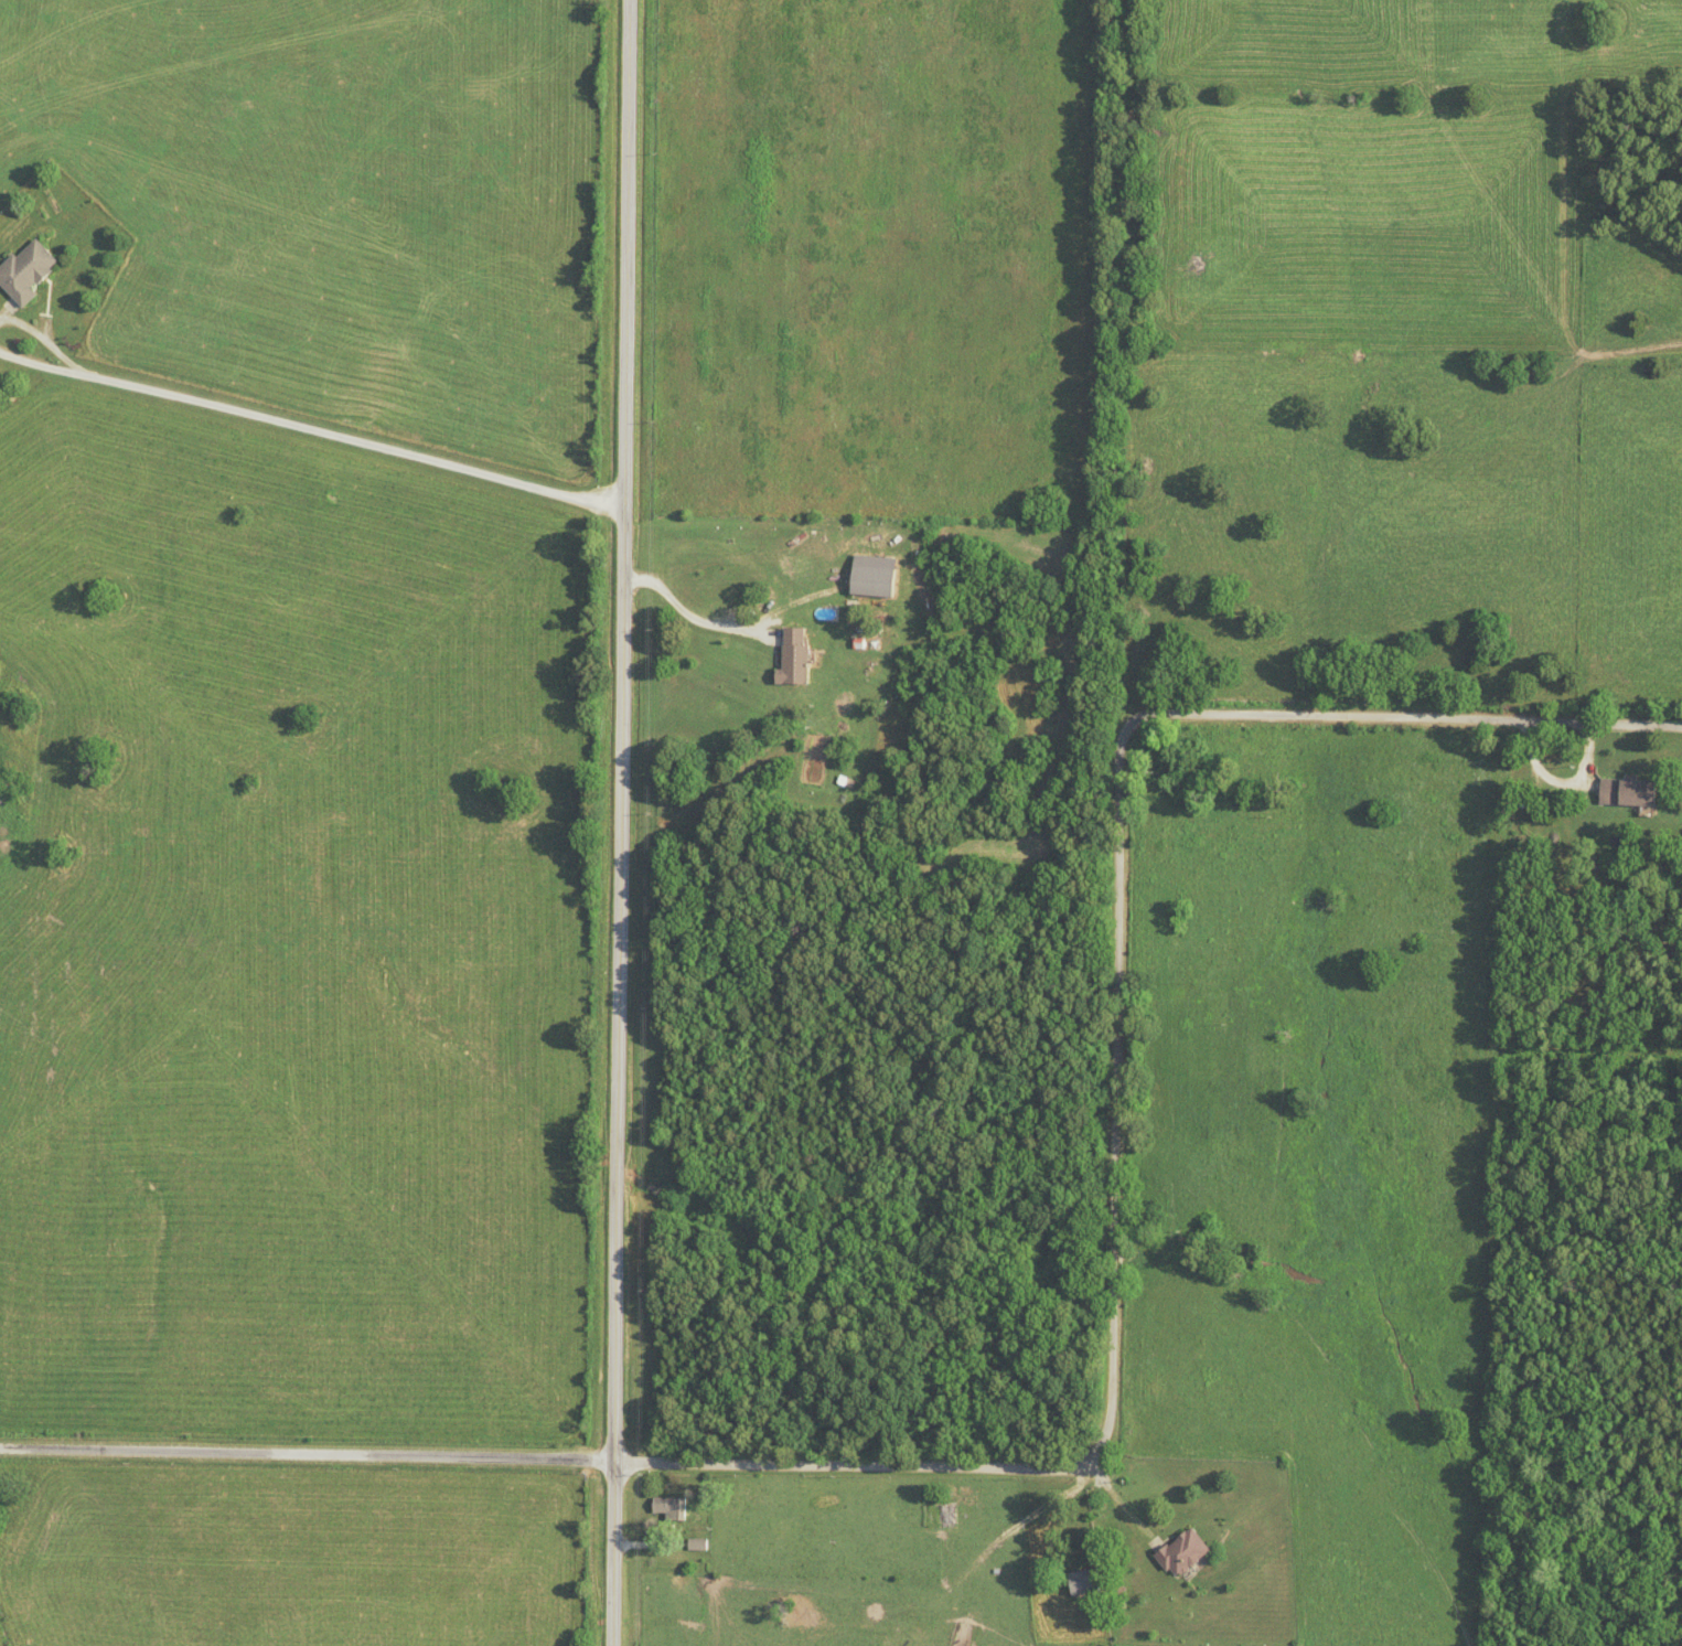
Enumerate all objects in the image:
building: (23, 270)
road: (75, 368)
road: (355, 442)
building: (869, 576)
road: (692, 616)
building: (790, 658)
road: (1435, 717)
building: (1624, 790)
road: (625, 823)
road: (955, 1467)
building: (667, 1507)
building: (944, 1514)
building: (696, 1545)
building: (1180, 1552)
building: (1082, 1582)

